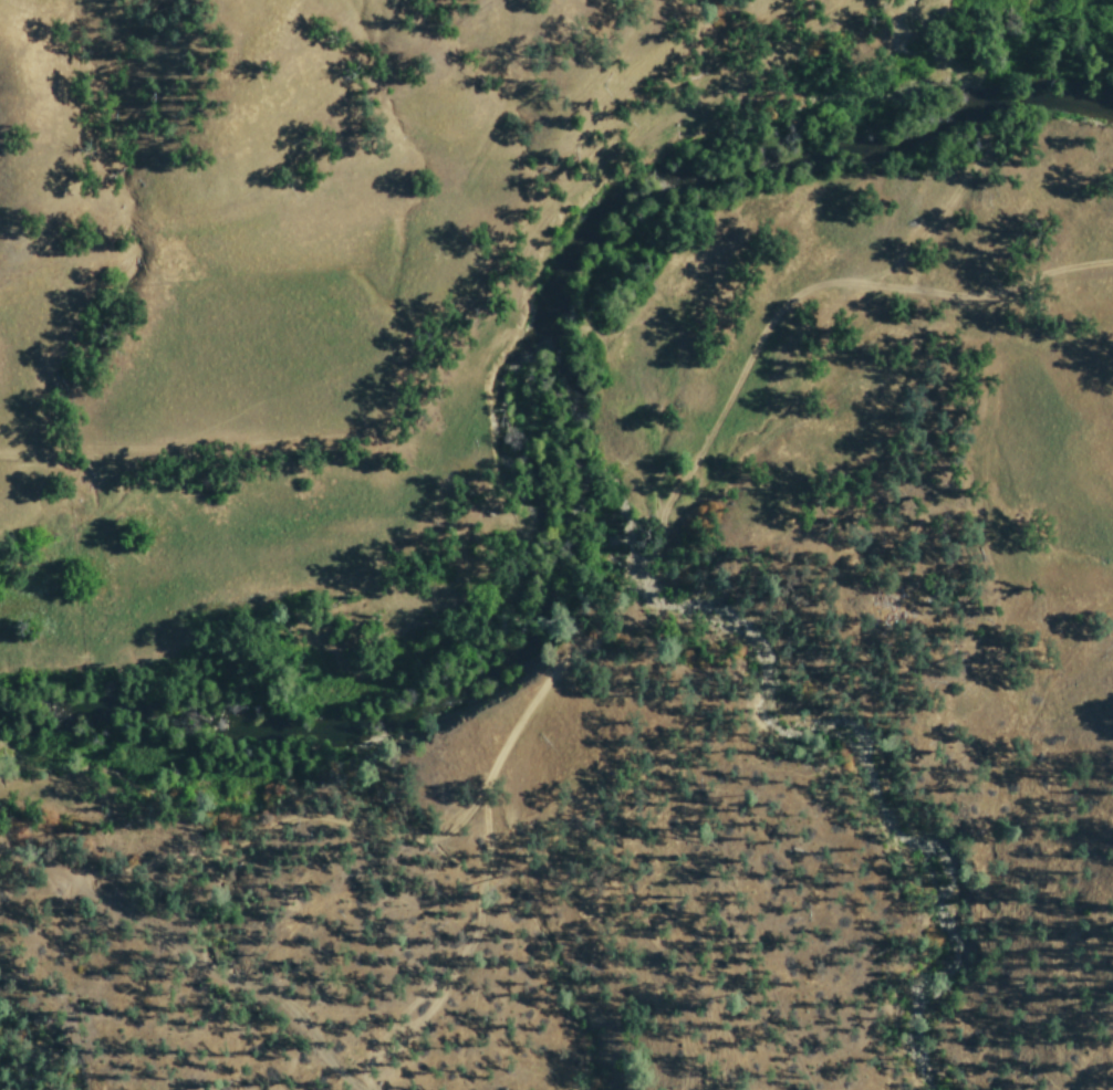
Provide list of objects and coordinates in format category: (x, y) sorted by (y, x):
river: (1008, 96)
river: (573, 233)
road: (958, 302)
road: (517, 726)
river: (311, 730)
road: (188, 960)

